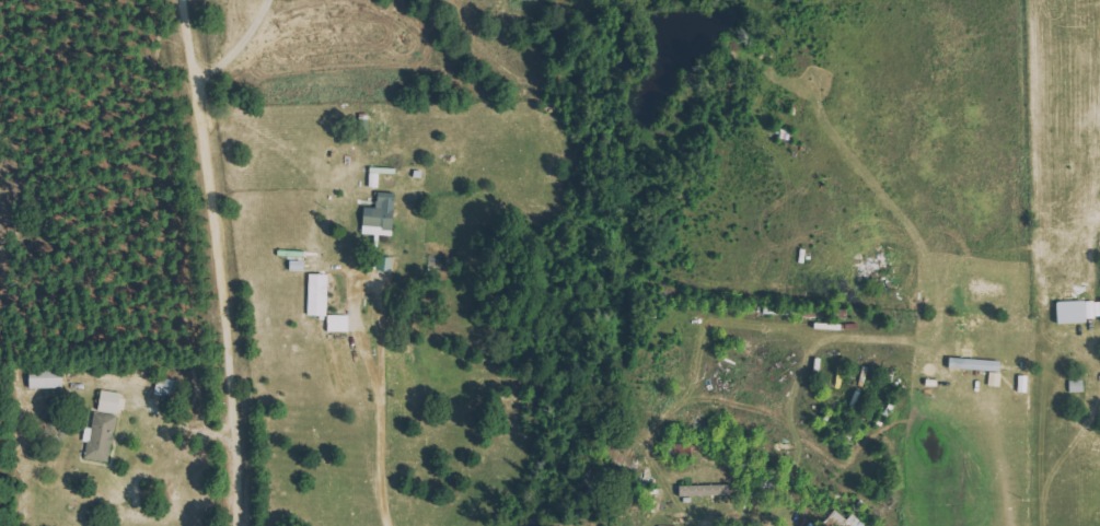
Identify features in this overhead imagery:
building: (377, 180)
building: (383, 217)
building: (321, 294)
building: (1079, 311)
building: (340, 323)
building: (49, 378)
building: (105, 428)
building: (706, 490)
building: (847, 521)

